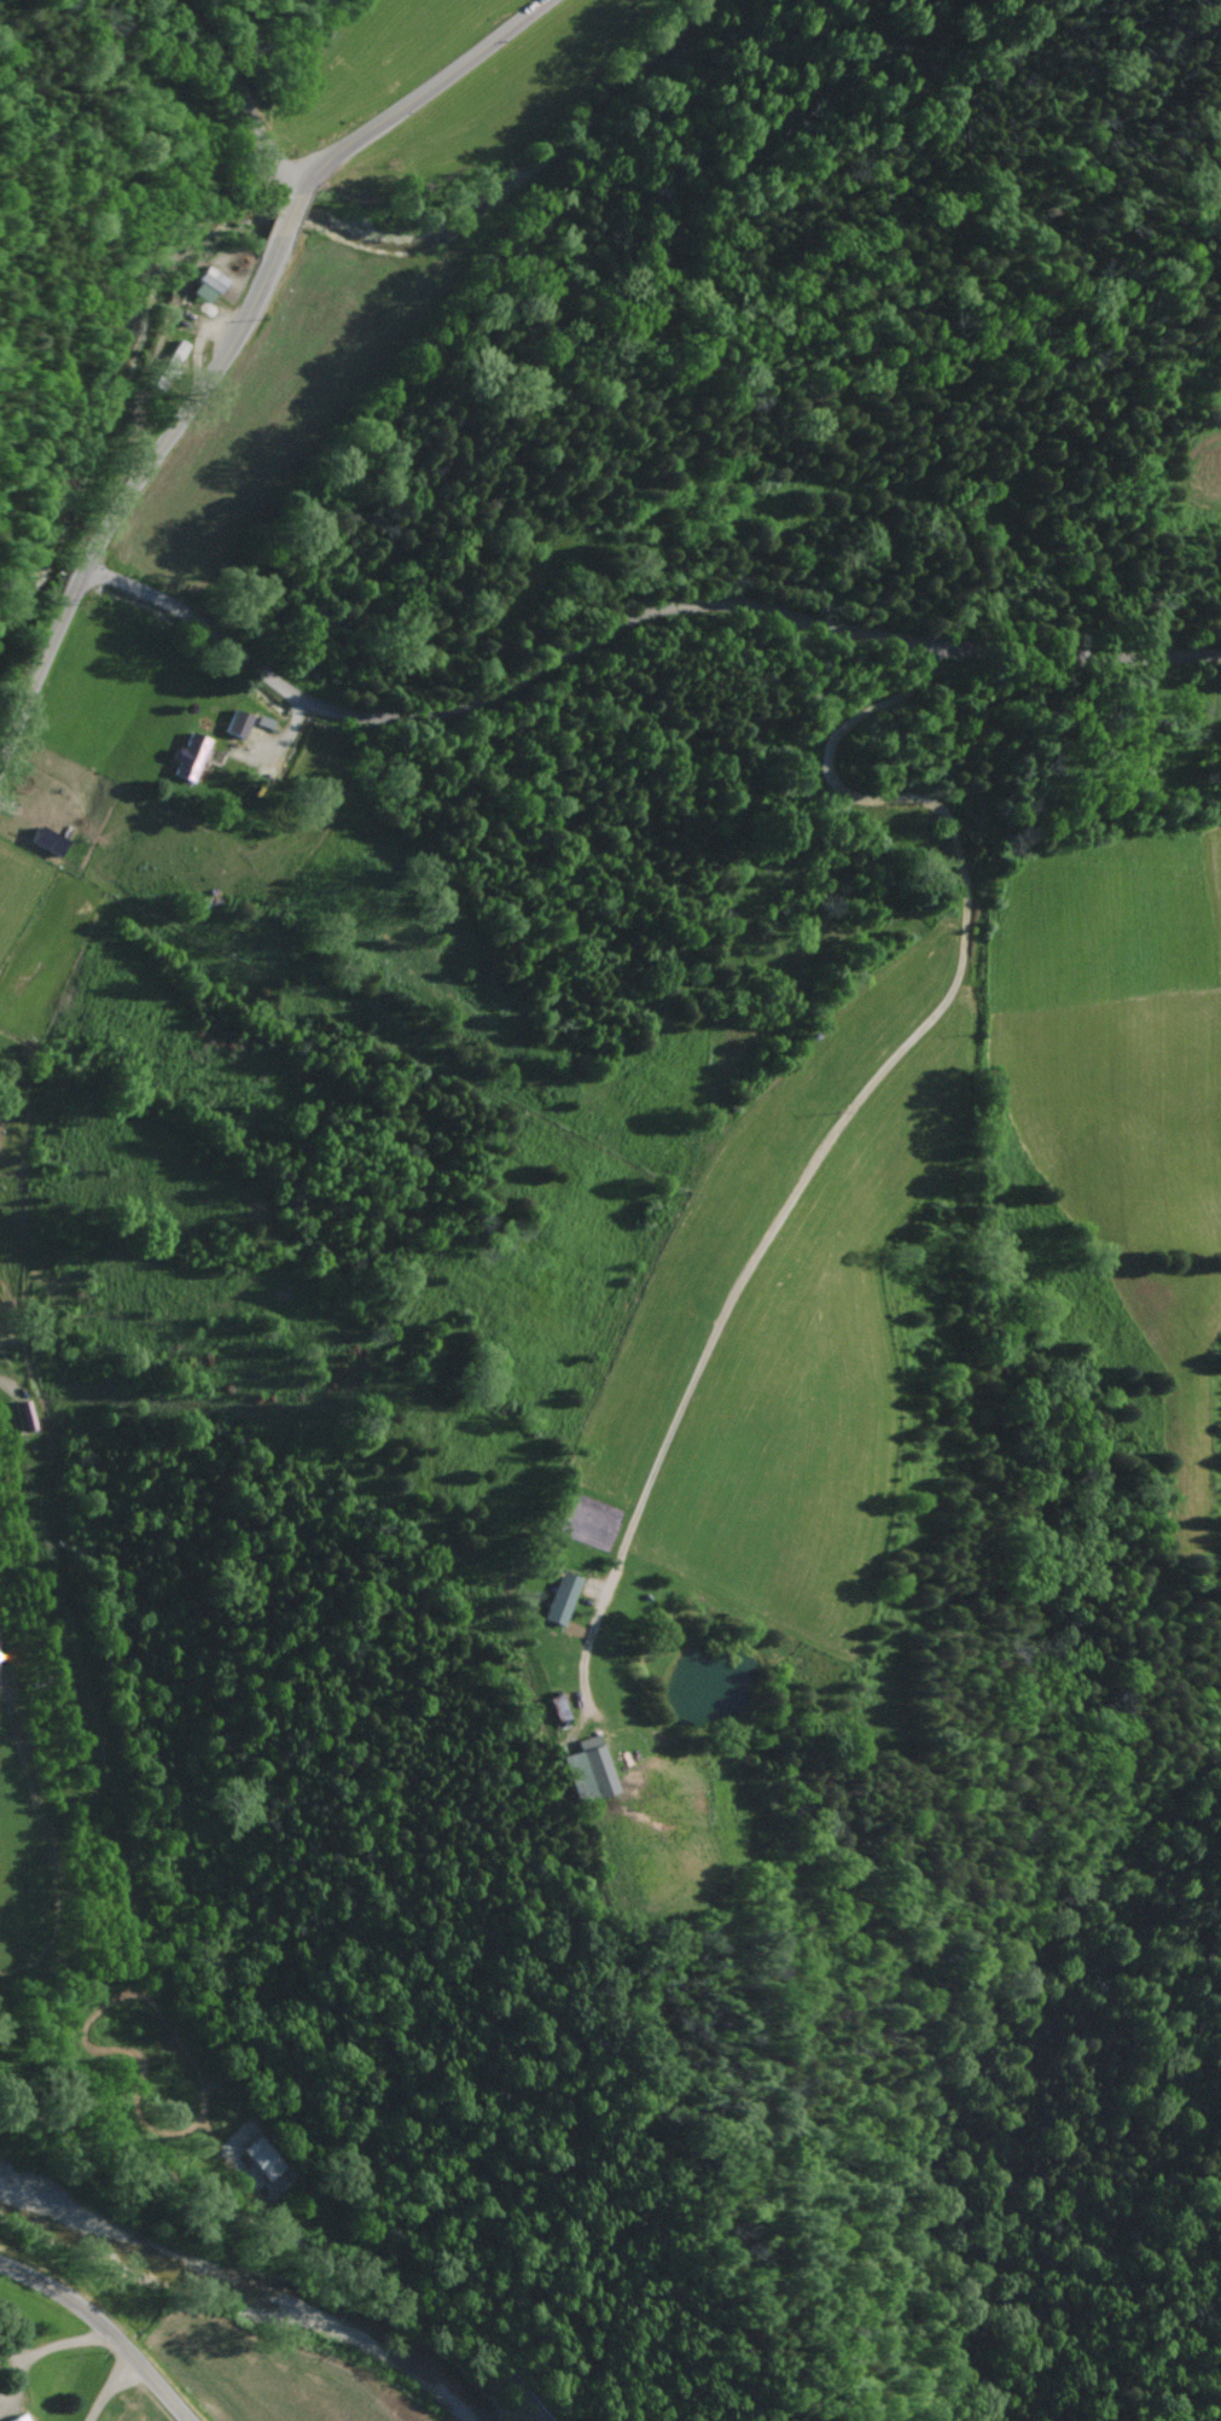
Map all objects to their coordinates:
road: (237, 100)
building: (207, 287)
road: (237, 339)
road: (622, 623)
building: (236, 726)
building: (190, 758)
road: (888, 1060)
building: (560, 1599)
building: (587, 1771)
road: (101, 2333)
building: (18, 2419)

